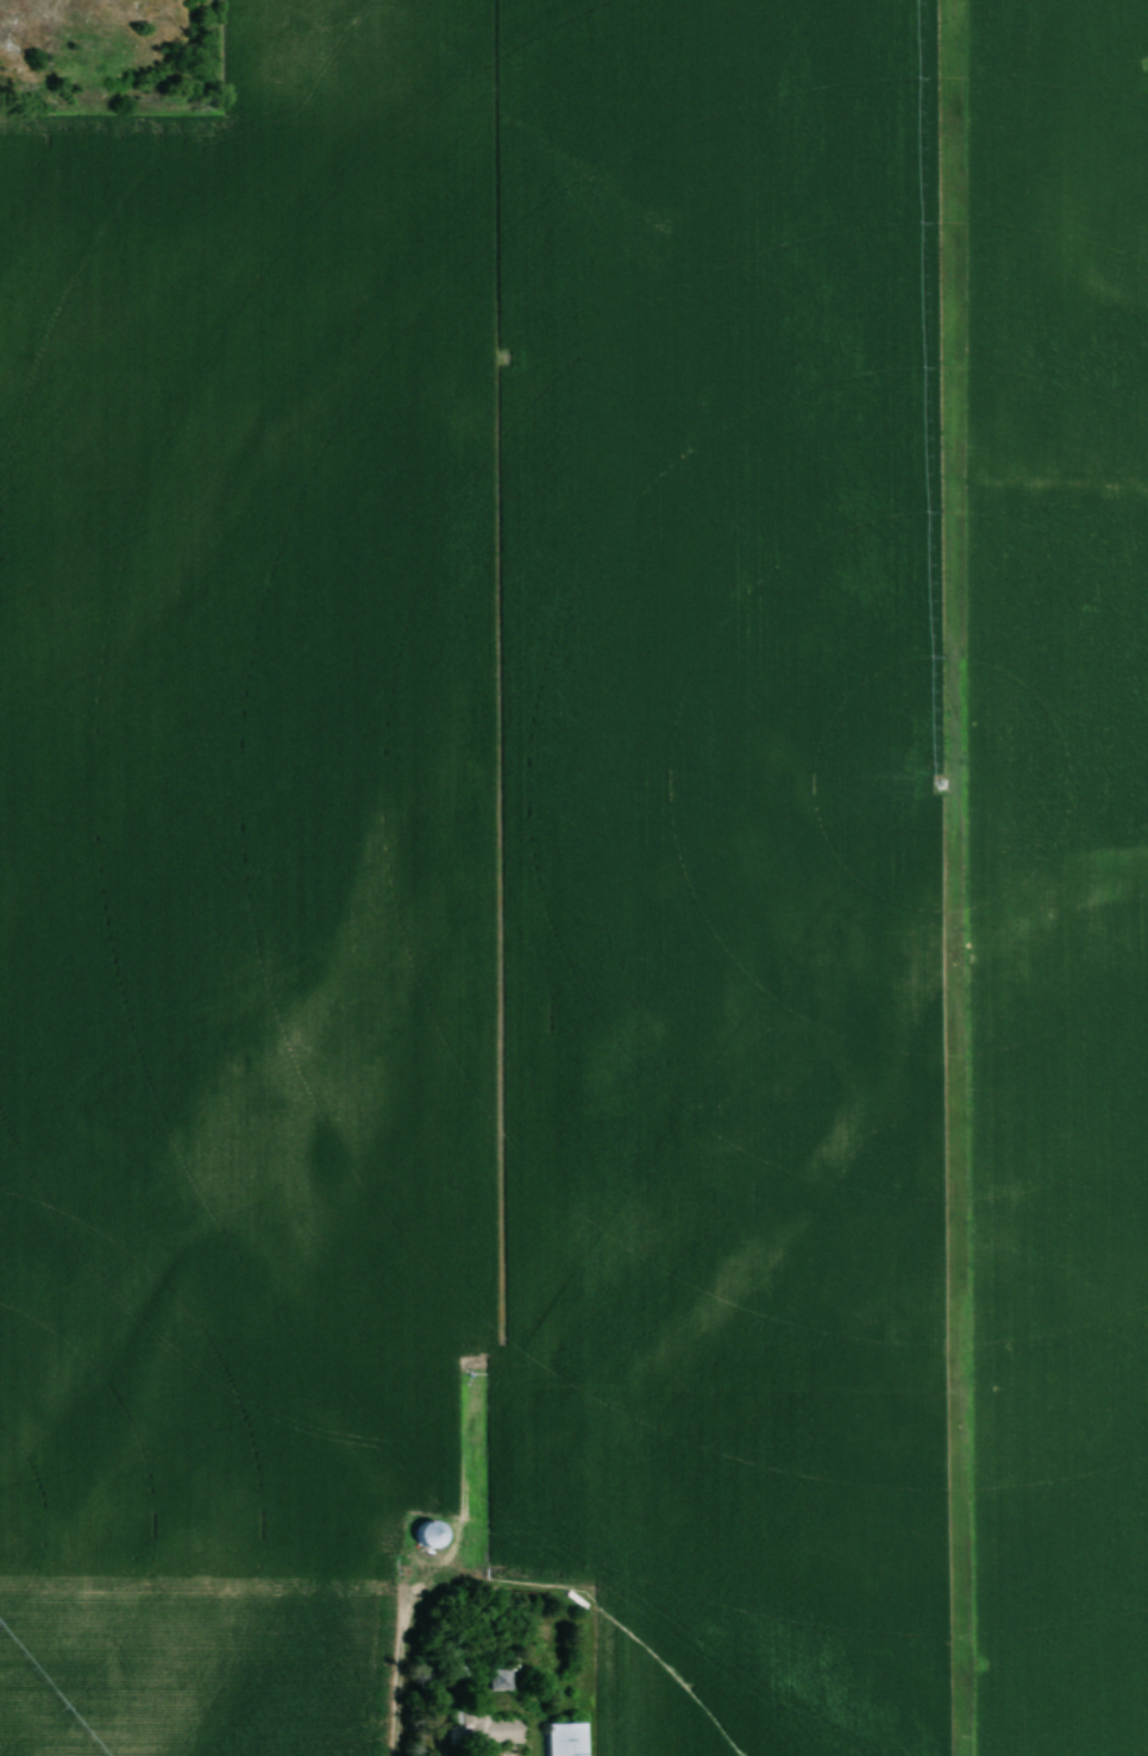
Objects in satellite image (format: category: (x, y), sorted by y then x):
building: (426, 1536)
building: (497, 1681)
building: (479, 1731)
building: (563, 1738)

